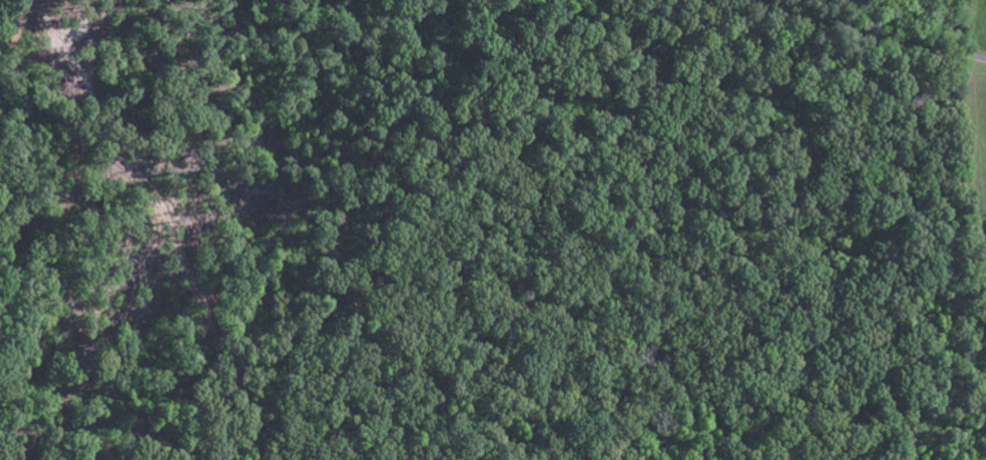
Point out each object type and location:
road: (12, 28)
road: (864, 34)
road: (811, 152)

